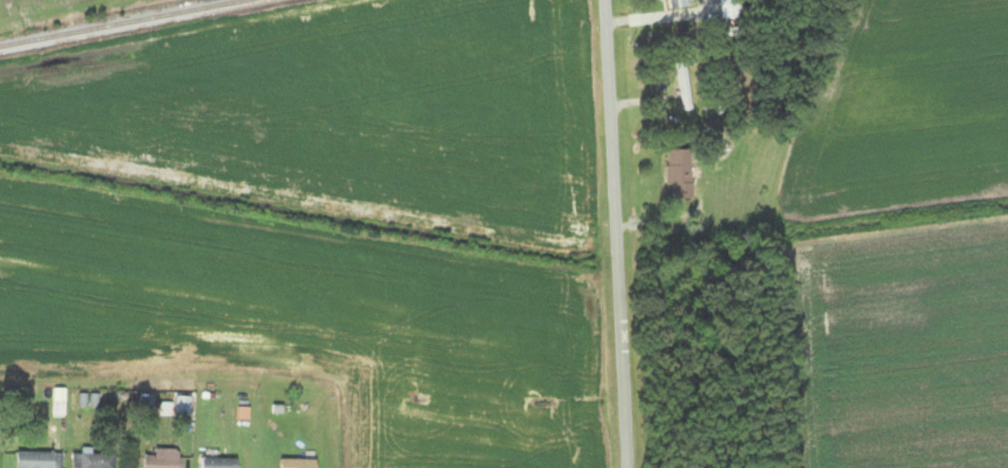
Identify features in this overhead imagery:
building: (677, 4)
railway: (124, 23)
building: (684, 87)
building: (679, 172)
road: (613, 234)
building: (58, 404)
building: (182, 406)
building: (163, 458)
building: (38, 459)
building: (92, 460)
building: (218, 463)
building: (297, 463)

